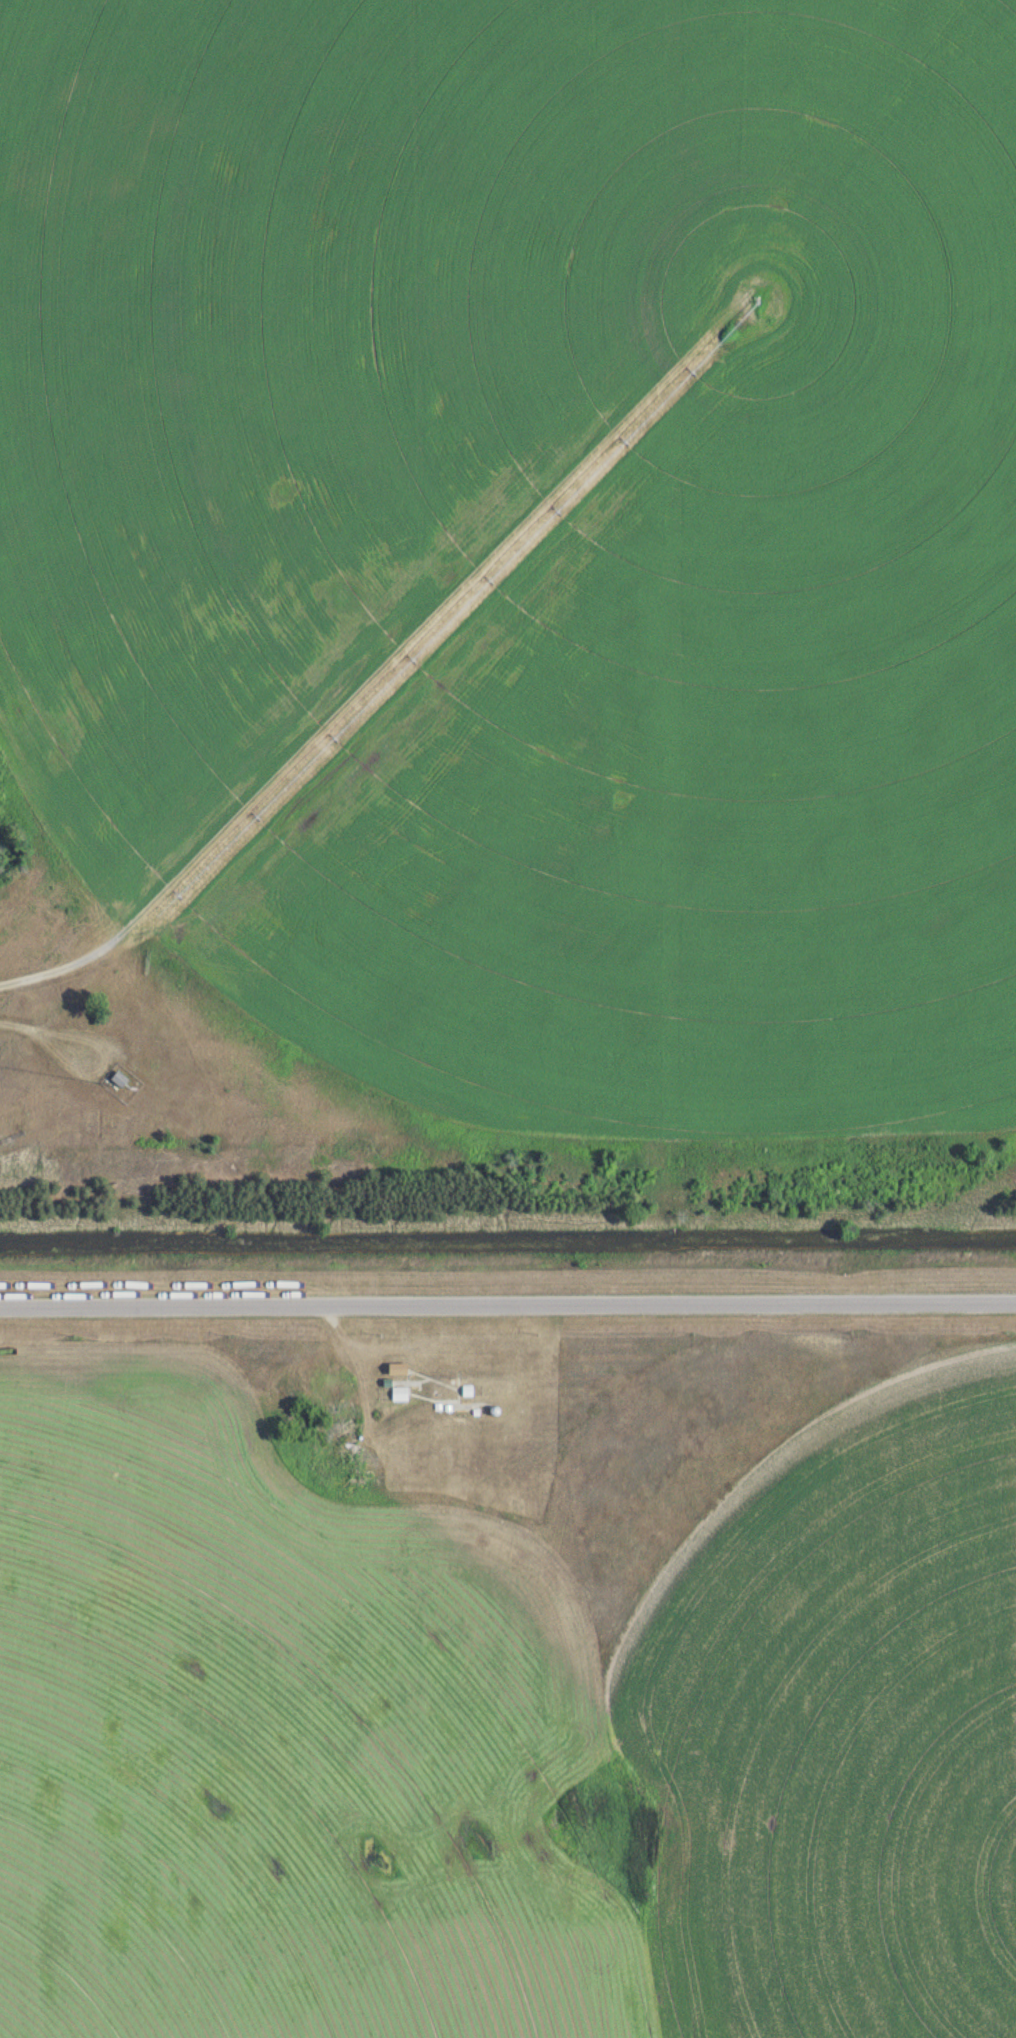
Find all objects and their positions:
wastewater plant: (508, 1019)
building: (118, 1077)
road: (780, 1300)
road: (272, 1302)
building: (396, 1368)
building: (398, 1393)

